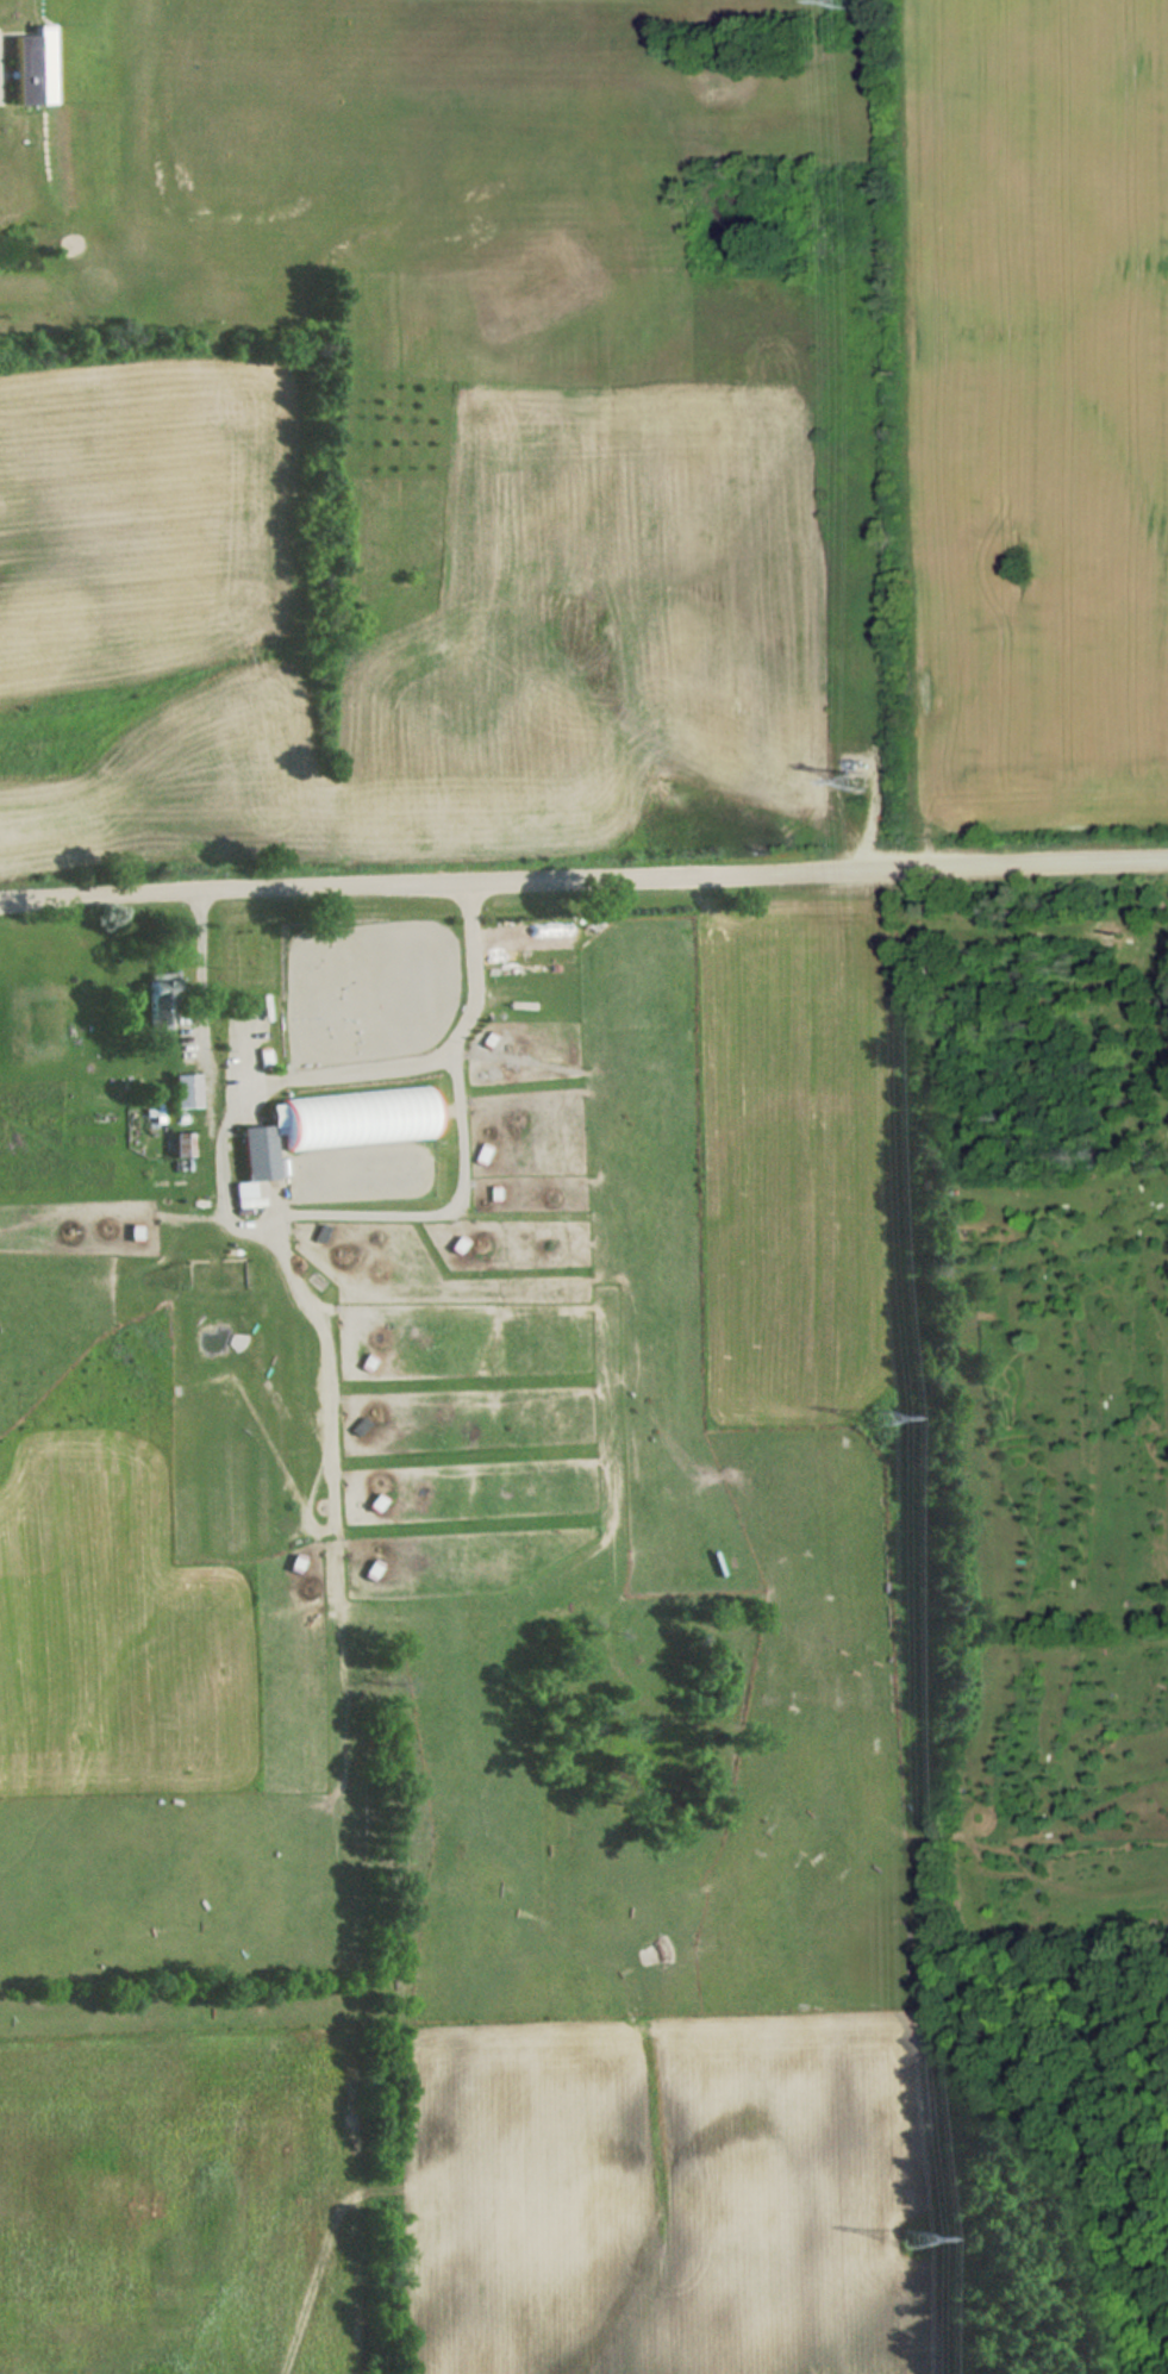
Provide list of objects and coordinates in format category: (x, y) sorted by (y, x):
power tower: (845, 2)
building: (36, 68)
power tower: (860, 779)
road: (583, 882)
road: (198, 987)
building: (162, 1000)
building: (186, 1092)
building: (336, 1124)
building: (182, 1145)
road: (230, 1166)
power tower: (886, 1416)
building: (361, 1425)
power tower: (914, 2239)

